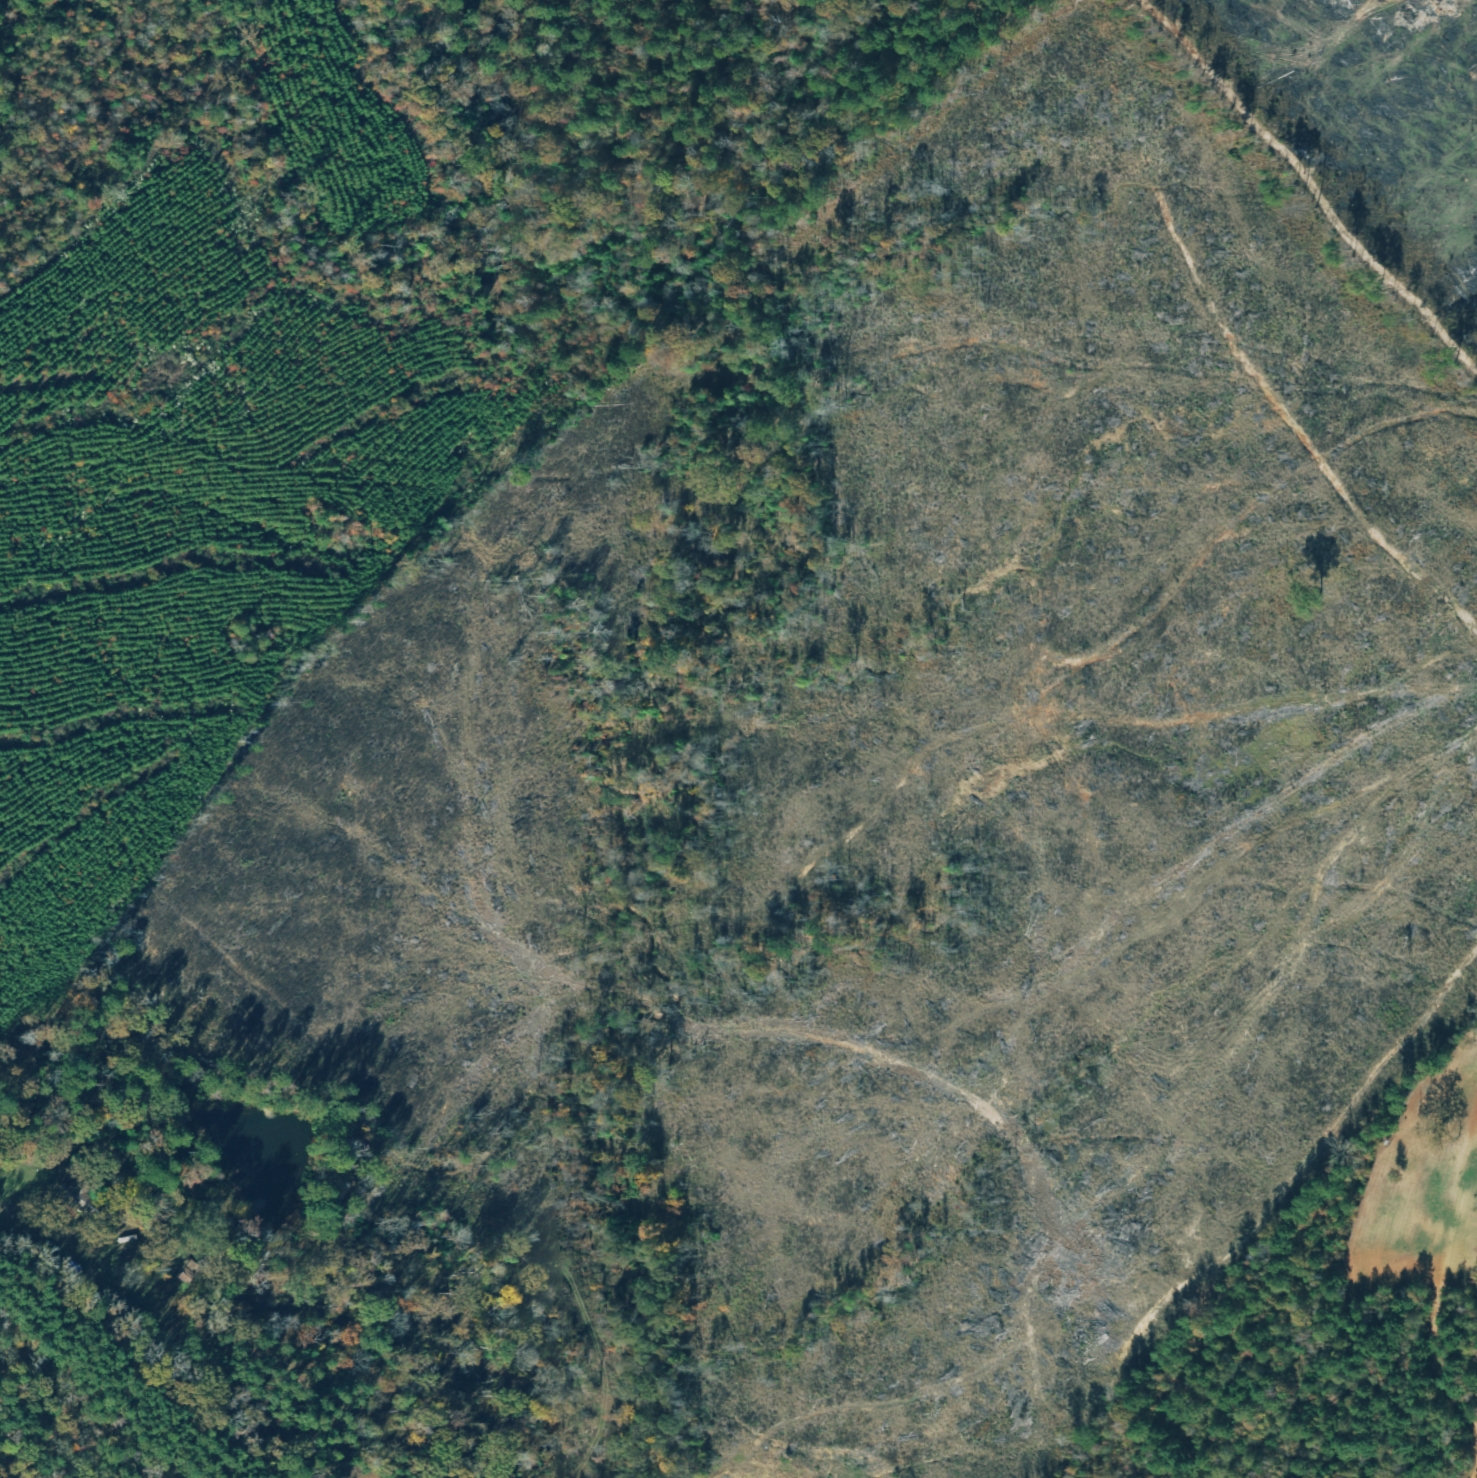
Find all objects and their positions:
road: (37, 1226)
road: (257, 1323)

